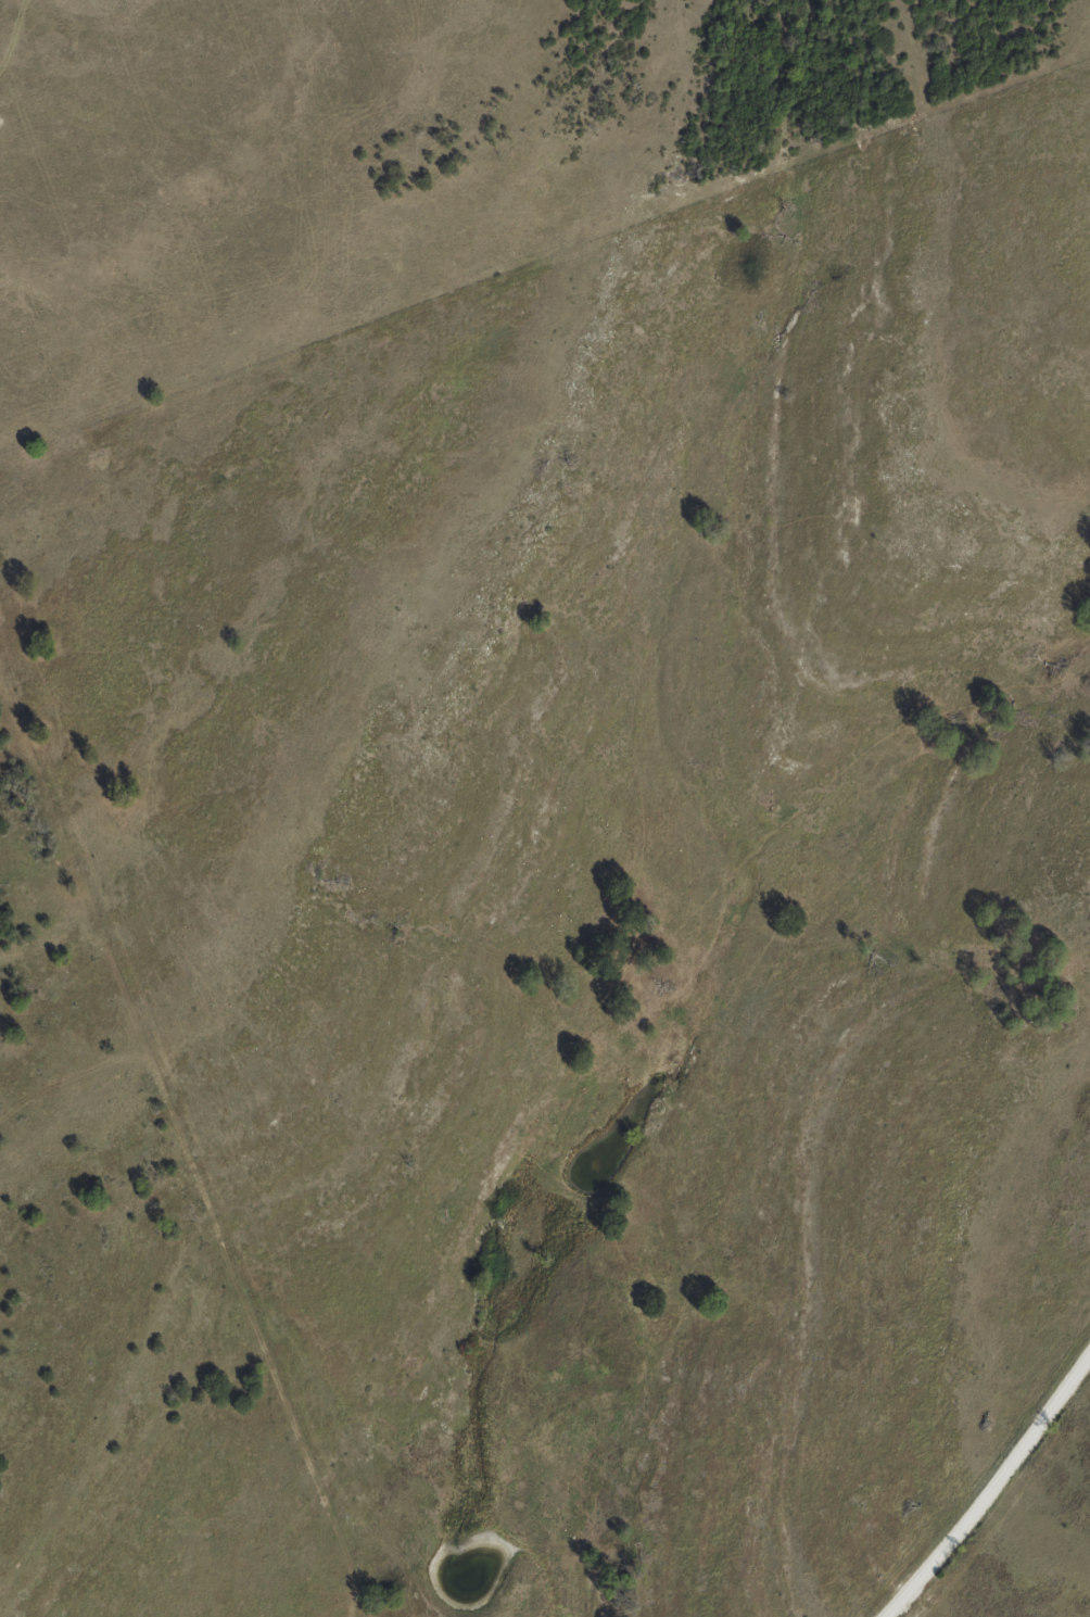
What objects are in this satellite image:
road: (981, 1479)

